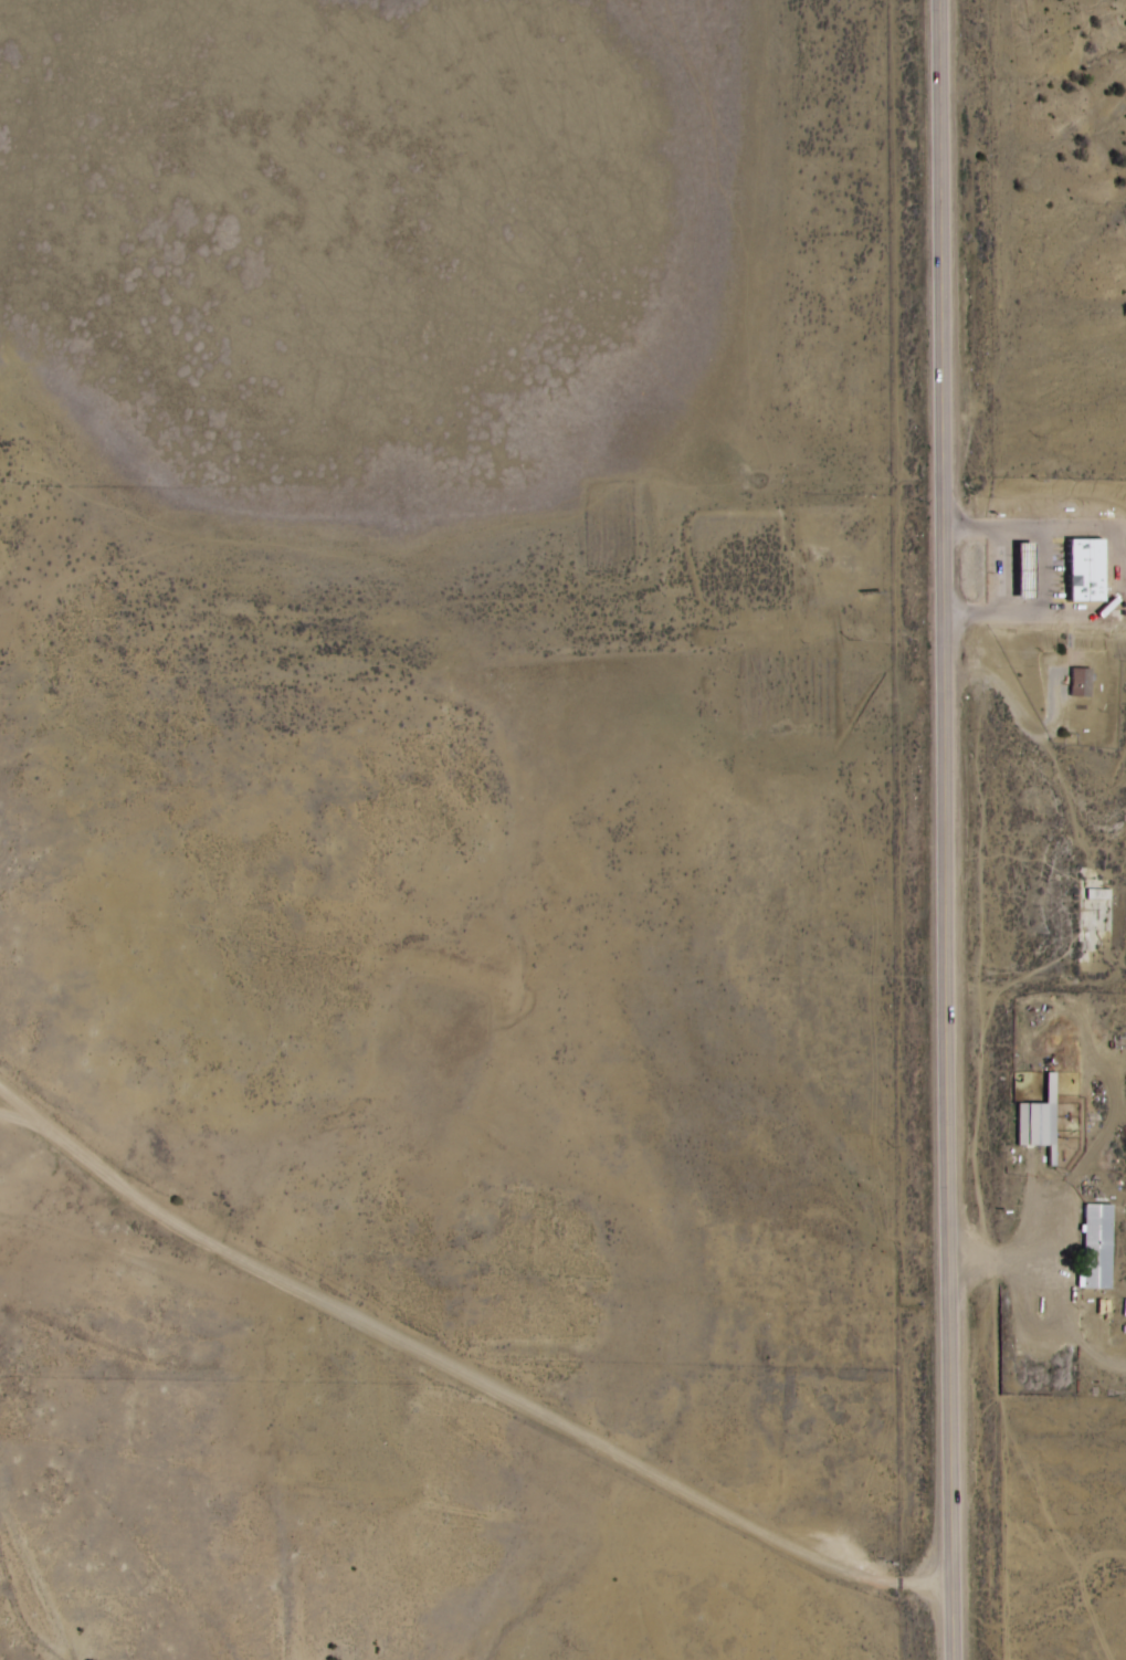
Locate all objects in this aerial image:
building: (1085, 570)
building: (1025, 574)
building: (1080, 682)
road: (946, 830)
building: (1039, 1122)
road: (155, 1209)
building: (1096, 1247)
road: (164, 1265)
road: (634, 1461)

